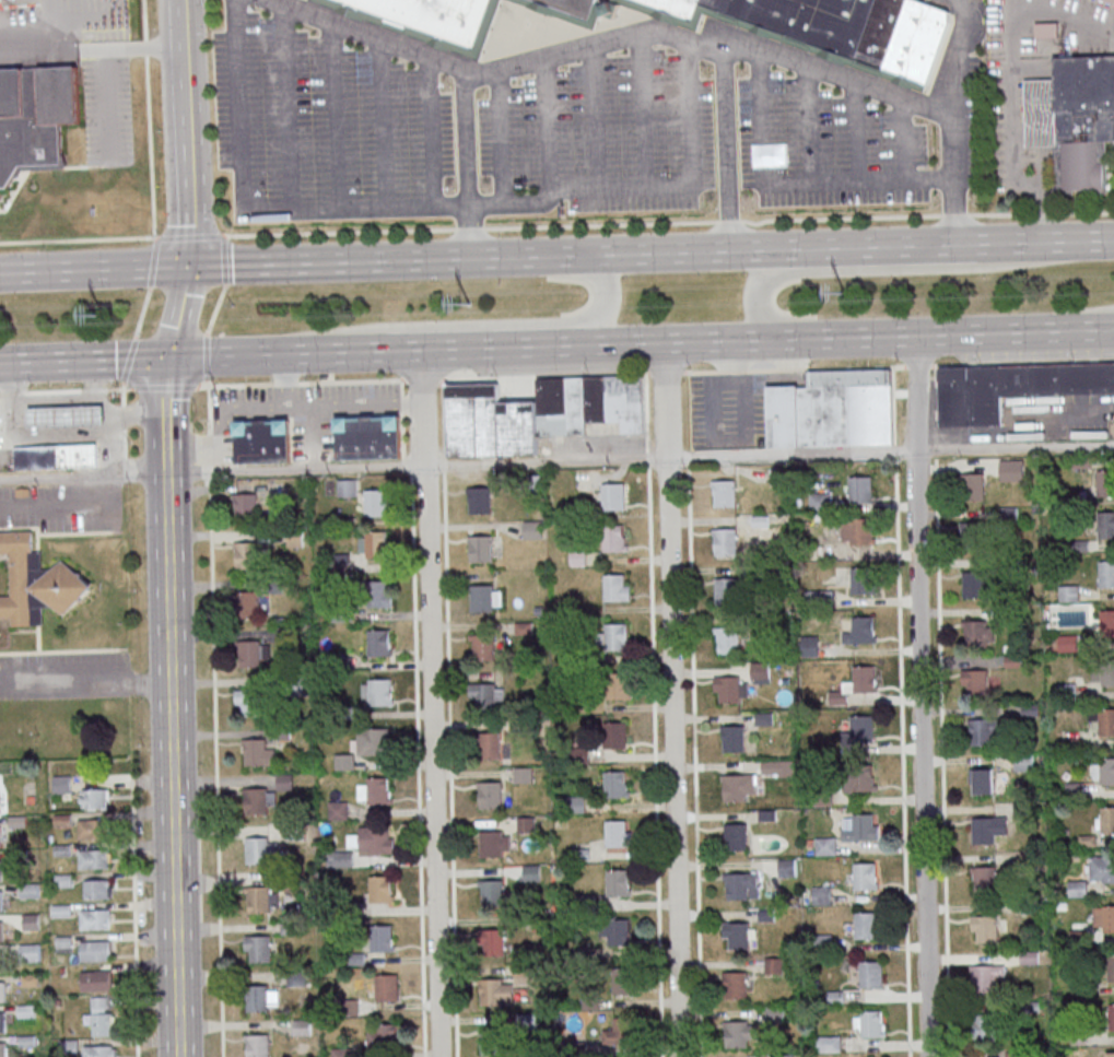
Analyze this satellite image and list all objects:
building: (1111, 0)
building: (432, 20)
building: (810, 26)
building: (1047, 28)
road: (94, 45)
road: (772, 54)
road: (954, 56)
road: (454, 63)
road: (1013, 82)
road: (286, 108)
road: (336, 116)
building: (1075, 116)
building: (35, 118)
road: (383, 124)
road: (806, 125)
road: (432, 131)
road: (853, 131)
road: (191, 132)
road: (902, 139)
road: (724, 149)
road: (794, 185)
road: (650, 186)
road: (251, 211)
road: (1037, 213)
road: (1083, 213)
road: (995, 214)
road: (954, 216)
road: (841, 219)
road: (727, 223)
road: (597, 225)
road: (468, 231)
road: (225, 235)
road: (1047, 242)
road: (900, 245)
road: (699, 251)
road: (385, 260)
traffic signals: (192, 266)
road: (96, 269)
road: (847, 270)
power tower: (844, 297)
power tower: (470, 307)
road: (177, 310)
power tower: (103, 318)
road: (502, 322)
road: (1102, 325)
road: (847, 337)
road: (485, 348)
road: (277, 353)
traffic signals: (166, 357)
road: (83, 360)
road: (584, 374)
building: (1011, 387)
road: (103, 389)
building: (829, 410)
building: (539, 413)
road: (163, 414)
building: (62, 415)
building: (1113, 427)
building: (368, 437)
building: (262, 441)
building: (52, 456)
road: (556, 460)
building: (1011, 469)
building: (1104, 482)
building: (970, 486)
building: (348, 488)
building: (858, 490)
building: (722, 493)
building: (611, 496)
building: (477, 501)
building: (373, 502)
building: (821, 502)
building: (243, 507)
building: (1104, 524)
building: (533, 529)
building: (858, 530)
building: (970, 535)
building: (611, 537)
building: (723, 542)
building: (374, 544)
building: (479, 548)
building: (821, 551)
building: (244, 555)
building: (1105, 573)
building: (859, 580)
building: (37, 583)
building: (971, 585)
building: (613, 586)
building: (724, 590)
building: (1069, 592)
building: (375, 594)
building: (820, 597)
building: (479, 598)
building: (246, 604)
building: (1105, 623)
building: (861, 630)
building: (978, 632)
building: (614, 636)
building: (728, 639)
building: (1068, 642)
building: (377, 643)
building: (482, 646)
building: (810, 646)
building: (247, 654)
building: (760, 672)
building: (1106, 672)
building: (863, 677)
building: (975, 681)
road: (85, 685)
building: (615, 685)
building: (729, 688)
building: (377, 691)
road: (920, 695)
building: (483, 696)
road: (672, 700)
road: (431, 702)
building: (249, 703)
road: (214, 720)
building: (1105, 721)
building: (860, 727)
building: (980, 731)
building: (614, 733)
building: (732, 737)
building: (376, 742)
building: (488, 745)
building: (253, 752)
road: (940, 757)
building: (1024, 761)
road: (173, 764)
building: (1105, 771)
building: (860, 776)
building: (981, 782)
building: (613, 784)
building: (62, 786)
building: (734, 787)
building: (377, 789)
building: (490, 794)
building: (95, 798)
building: (254, 802)
building: (338, 810)
building: (1106, 820)
building: (526, 824)
building: (860, 827)
building: (93, 829)
building: (987, 829)
building: (614, 833)
building: (735, 835)
building: (0, 836)
building: (377, 838)
building: (491, 842)
building: (825, 846)
building: (255, 850)
building: (95, 858)
building: (787, 867)
building: (1107, 868)
building: (1, 870)
building: (863, 874)
building: (983, 879)
building: (65, 880)
building: (617, 881)
building: (736, 885)
building: (378, 888)
building: (97, 889)
building: (30, 892)
building: (492, 892)
building: (822, 895)
building: (258, 899)
building: (1, 901)
road: (133, 915)
building: (1106, 917)
building: (96, 919)
building: (32, 921)
building: (865, 924)
building: (984, 927)
building: (1, 931)
building: (618, 931)
building: (738, 935)
building: (380, 937)
building: (492, 941)
building: (65, 942)
building: (259, 948)
building: (96, 950)
building: (31, 953)
building: (774, 965)
building: (1111, 966)
building: (869, 973)
building: (985, 976)
building: (623, 979)
building: (97, 980)
building: (735, 984)
building: (386, 987)
building: (490, 990)
building: (2, 991)
building: (256, 997)
building: (1111, 1015)
building: (103, 1017)
building: (3, 1021)
building: (870, 1022)
building: (983, 1026)
building: (623, 1029)
building: (736, 1032)
building: (386, 1036)
building: (492, 1040)
building: (825, 1044)
building: (257, 1045)
building: (3, 1049)
building: (99, 1050)
building: (1111, 1054)
building: (783, 1056)

